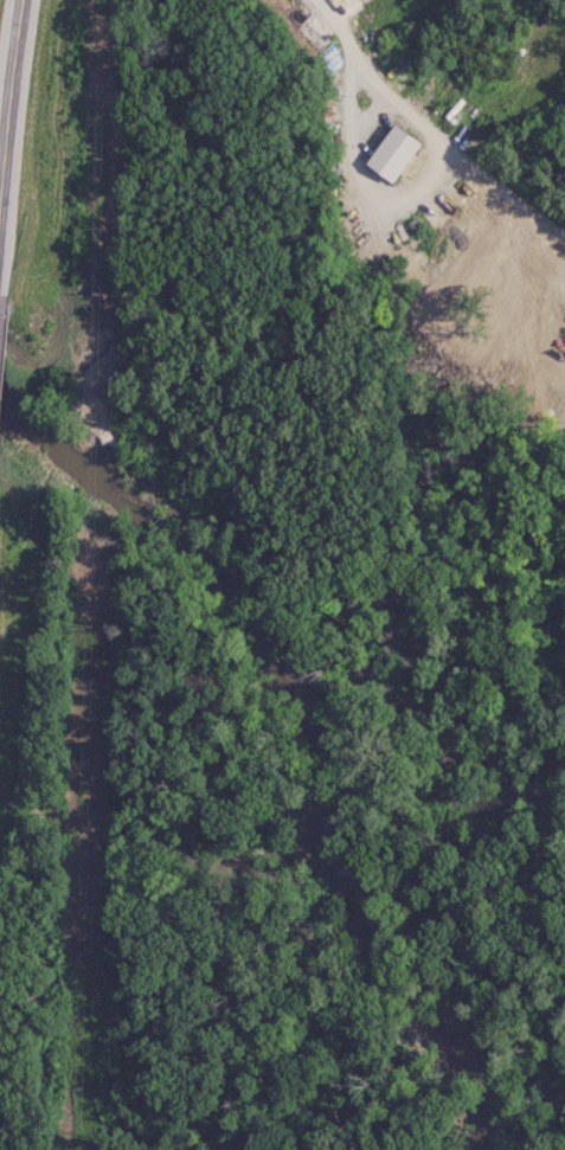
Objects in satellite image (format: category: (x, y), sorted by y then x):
road: (339, 24)
road: (9, 88)
building: (390, 153)
road: (419, 195)

